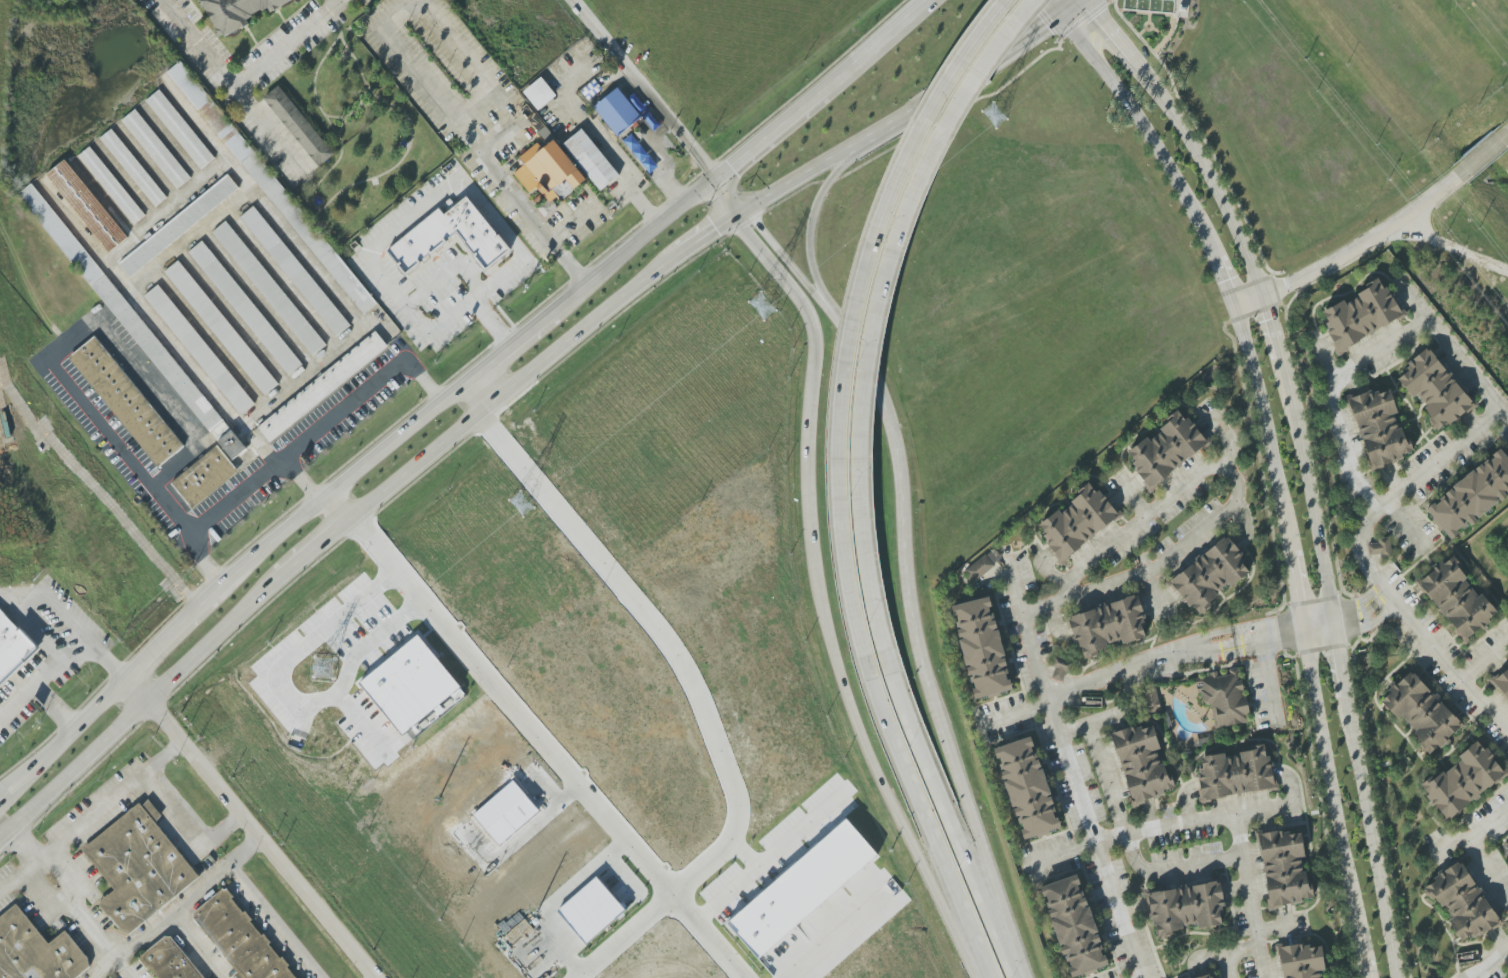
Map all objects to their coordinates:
road: (343, 0)
road: (1113, 1)
road: (1071, 2)
road: (1075, 2)
traffic signals: (1073, 4)
road: (398, 10)
building: (236, 12)
road: (1085, 19)
road: (1024, 37)
road: (288, 47)
road: (867, 47)
road: (228, 90)
building: (539, 93)
road: (659, 104)
road: (918, 105)
building: (617, 111)
road: (954, 111)
power tower: (990, 116)
building: (298, 126)
building: (180, 129)
road: (764, 136)
building: (155, 149)
road: (477, 149)
road: (1483, 154)
building: (590, 159)
building: (133, 168)
building: (549, 172)
road: (801, 175)
traffic signals: (716, 177)
road: (204, 179)
road: (830, 180)
building: (111, 185)
road: (794, 193)
building: (86, 206)
traffic signals: (745, 208)
road: (735, 213)
traffic signals: (730, 217)
road: (747, 221)
road: (811, 221)
building: (178, 226)
road: (387, 231)
road: (706, 233)
building: (450, 236)
road: (188, 238)
road: (633, 243)
road: (1453, 245)
road: (1352, 252)
road: (787, 261)
building: (295, 271)
road: (1258, 285)
building: (269, 288)
road: (1230, 298)
road: (345, 301)
power tower: (760, 304)
building: (245, 308)
building: (1361, 315)
road: (874, 318)
road: (155, 321)
building: (131, 322)
road: (854, 322)
building: (221, 328)
road: (391, 335)
road: (515, 341)
building: (199, 349)
road: (1452, 352)
road: (814, 356)
road: (45, 357)
road: (1322, 359)
road: (489, 384)
building: (321, 387)
road: (511, 388)
road: (357, 389)
building: (1434, 389)
road: (1328, 396)
building: (126, 402)
building: (1379, 428)
road: (1226, 434)
building: (1166, 449)
road: (441, 458)
road: (253, 473)
building: (203, 478)
road: (344, 482)
road: (1235, 496)
building: (1471, 496)
road: (902, 500)
power tower: (519, 503)
building: (1078, 522)
road: (1407, 523)
building: (1379, 547)
road: (310, 552)
building: (979, 568)
road: (1366, 568)
building: (1210, 575)
road: (17, 593)
building: (1457, 599)
building: (495, 611)
road: (1362, 613)
road: (65, 616)
road: (1318, 625)
building: (1108, 626)
road: (168, 636)
road: (667, 642)
building: (12, 647)
building: (981, 647)
road: (1170, 648)
road: (1484, 658)
road: (64, 666)
power tower: (322, 668)
building: (1060, 669)
road: (1269, 679)
building: (419, 684)
building: (1224, 698)
building: (1152, 700)
road: (287, 702)
road: (140, 705)
road: (57, 708)
road: (154, 708)
building: (1421, 711)
road: (1013, 712)
road: (363, 722)
road: (1092, 725)
road: (537, 735)
road: (62, 739)
road: (871, 760)
building: (1142, 763)
building: (1236, 773)
road: (1070, 774)
building: (1464, 780)
road: (71, 788)
building: (1027, 788)
road: (1363, 800)
road: (111, 802)
road: (1332, 803)
building: (513, 813)
road: (951, 826)
road: (1161, 826)
road: (1489, 826)
road: (249, 828)
road: (931, 828)
road: (185, 833)
road: (978, 839)
road: (1450, 843)
road: (1129, 846)
road: (747, 854)
road: (775, 859)
building: (1284, 868)
building: (134, 869)
road: (1489, 870)
road: (20, 877)
building: (809, 890)
road: (66, 895)
road: (1248, 896)
building: (1462, 902)
road: (176, 908)
building: (1186, 908)
building: (599, 909)
road: (270, 922)
building: (1074, 925)
road: (1273, 927)
road: (622, 936)
building: (238, 938)
road: (844, 941)
road: (204, 943)
building: (35, 951)
road: (1226, 953)
building: (895, 955)
building: (165, 961)
building: (1302, 961)
road: (1223, 966)
road: (1494, 966)
road: (1139, 976)
building: (1208, 976)

